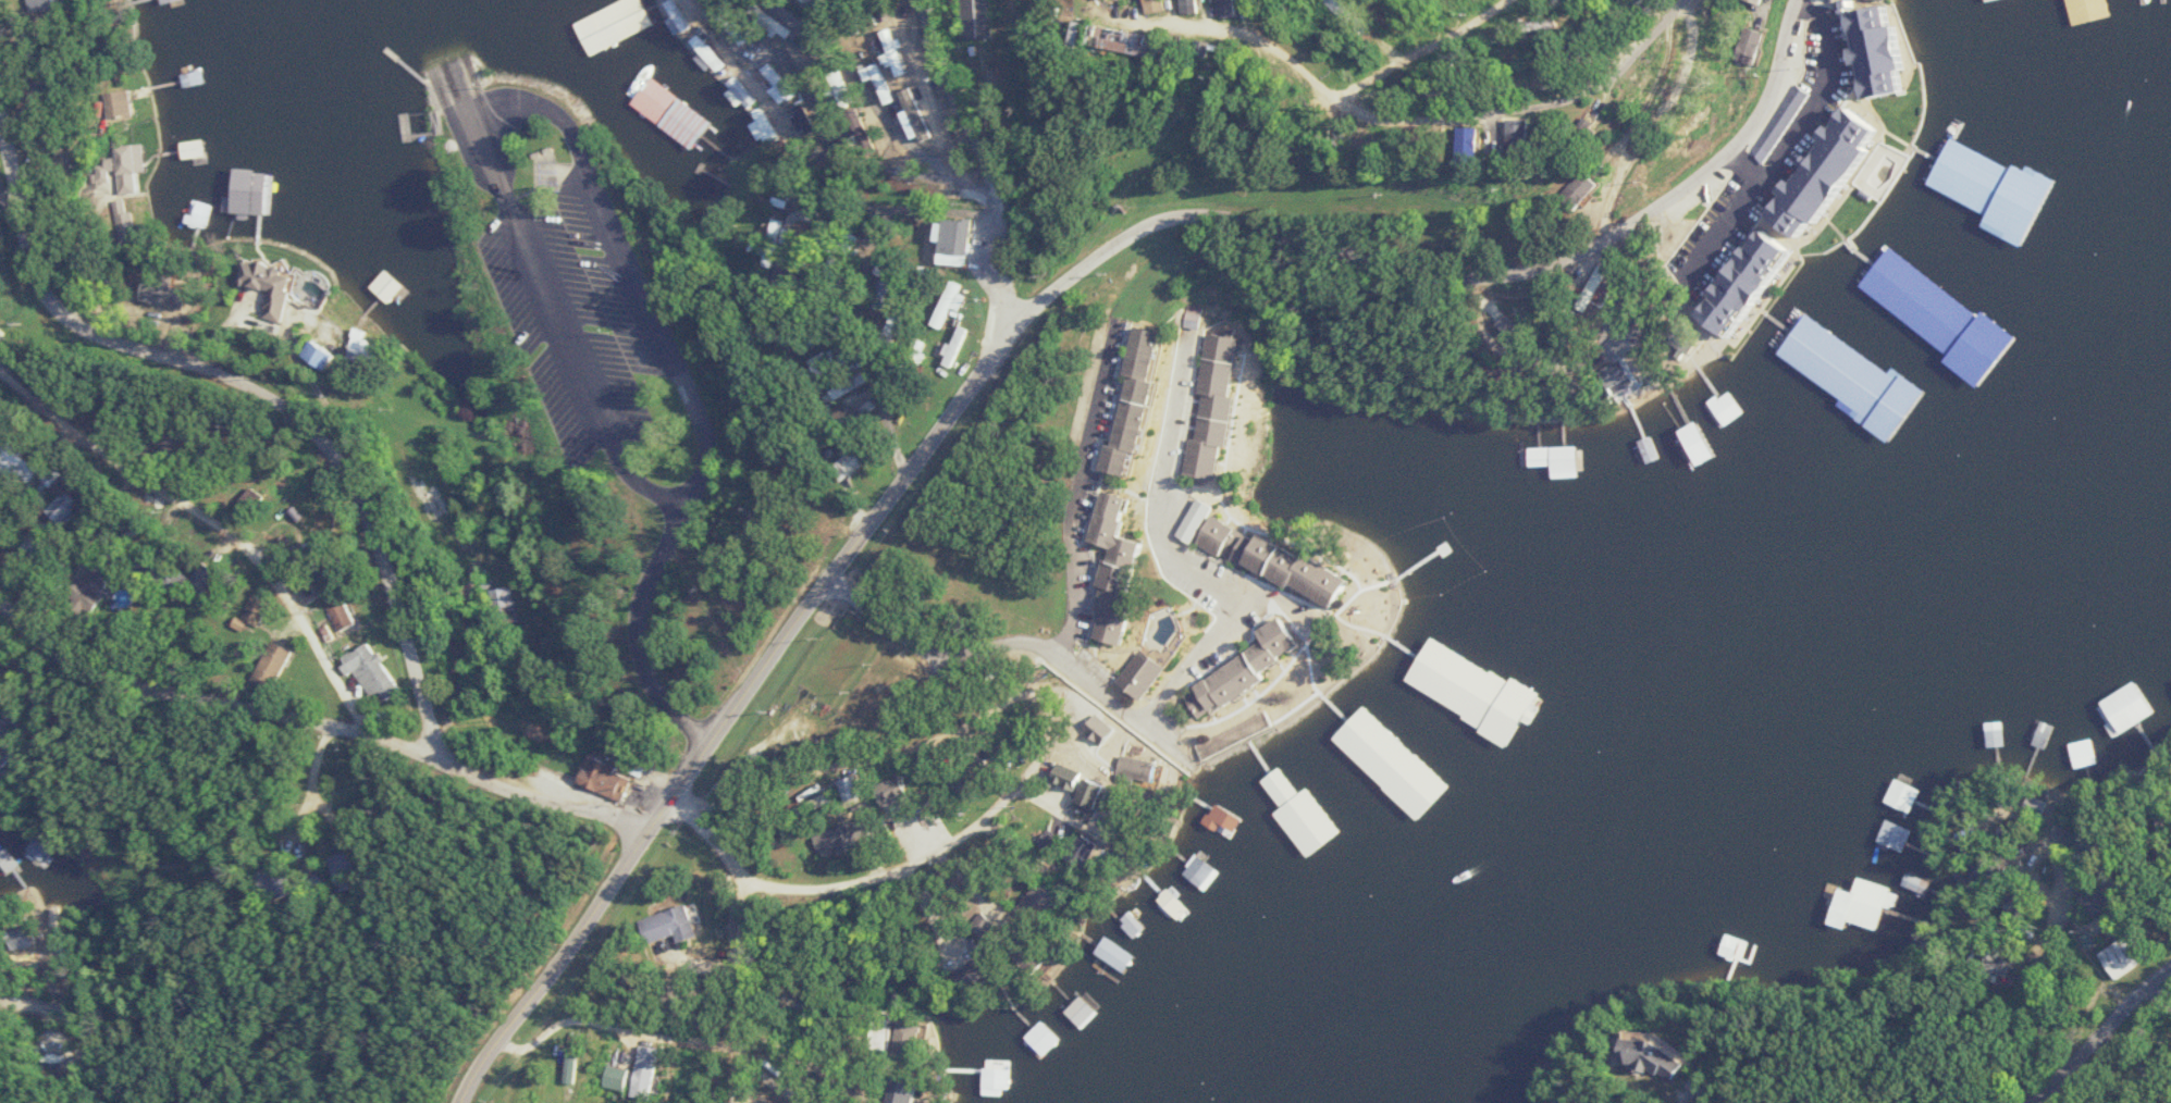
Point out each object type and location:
building: (1984, 0)
building: (170, 1)
road: (1685, 3)
building: (1179, 7)
building: (1213, 7)
building: (1253, 8)
building: (2094, 9)
building: (975, 18)
building: (1148, 42)
road: (1270, 49)
road: (1419, 50)
building: (1889, 52)
road: (461, 94)
road: (924, 94)
road: (1805, 101)
building: (129, 107)
road: (1524, 111)
road: (872, 114)
road: (1657, 127)
building: (761, 128)
building: (1539, 138)
building: (1490, 144)
building: (195, 149)
road: (975, 158)
building: (127, 165)
building: (1591, 188)
building: (1993, 193)
road: (1723, 216)
building: (316, 221)
building: (1802, 221)
building: (957, 241)
road: (628, 267)
road: (1435, 271)
building: (271, 283)
building: (388, 285)
building: (169, 295)
building: (950, 303)
building: (1941, 315)
road: (559, 325)
building: (5, 335)
road: (268, 348)
building: (1854, 379)
building: (1147, 398)
building: (1223, 402)
building: (1729, 406)
road: (252, 416)
building: (1646, 437)
building: (1707, 441)
building: (1688, 448)
building: (1557, 457)
building: (25, 461)
building: (435, 496)
road: (1075, 504)
building: (1201, 520)
road: (220, 523)
building: (1224, 536)
building: (1126, 568)
building: (1310, 569)
building: (118, 572)
building: (210, 578)
building: (96, 595)
building: (502, 602)
building: (346, 615)
road: (468, 630)
road: (638, 632)
building: (282, 661)
building: (1258, 665)
building: (377, 670)
building: (1150, 672)
road: (1169, 693)
road: (205, 698)
building: (1451, 702)
building: (2121, 708)
road: (1046, 718)
road: (724, 722)
building: (1990, 733)
building: (2040, 734)
building: (1501, 741)
building: (2084, 753)
building: (1392, 766)
building: (608, 778)
building: (1088, 784)
road: (112, 791)
road: (540, 791)
building: (1900, 794)
building: (1223, 815)
building: (1315, 818)
building: (1894, 834)
building: (830, 840)
road: (712, 843)
building: (40, 848)
building: (8, 859)
building: (1201, 871)
building: (2090, 901)
building: (1858, 904)
building: (673, 925)
building: (1732, 945)
building: (1118, 954)
building: (2120, 955)
building: (978, 972)
road: (2038, 988)
road: (740, 997)
building: (1084, 1011)
building: (912, 1032)
road: (72, 1033)
road: (2109, 1042)
building: (1663, 1057)
building: (987, 1069)
building: (649, 1071)
building: (618, 1077)

